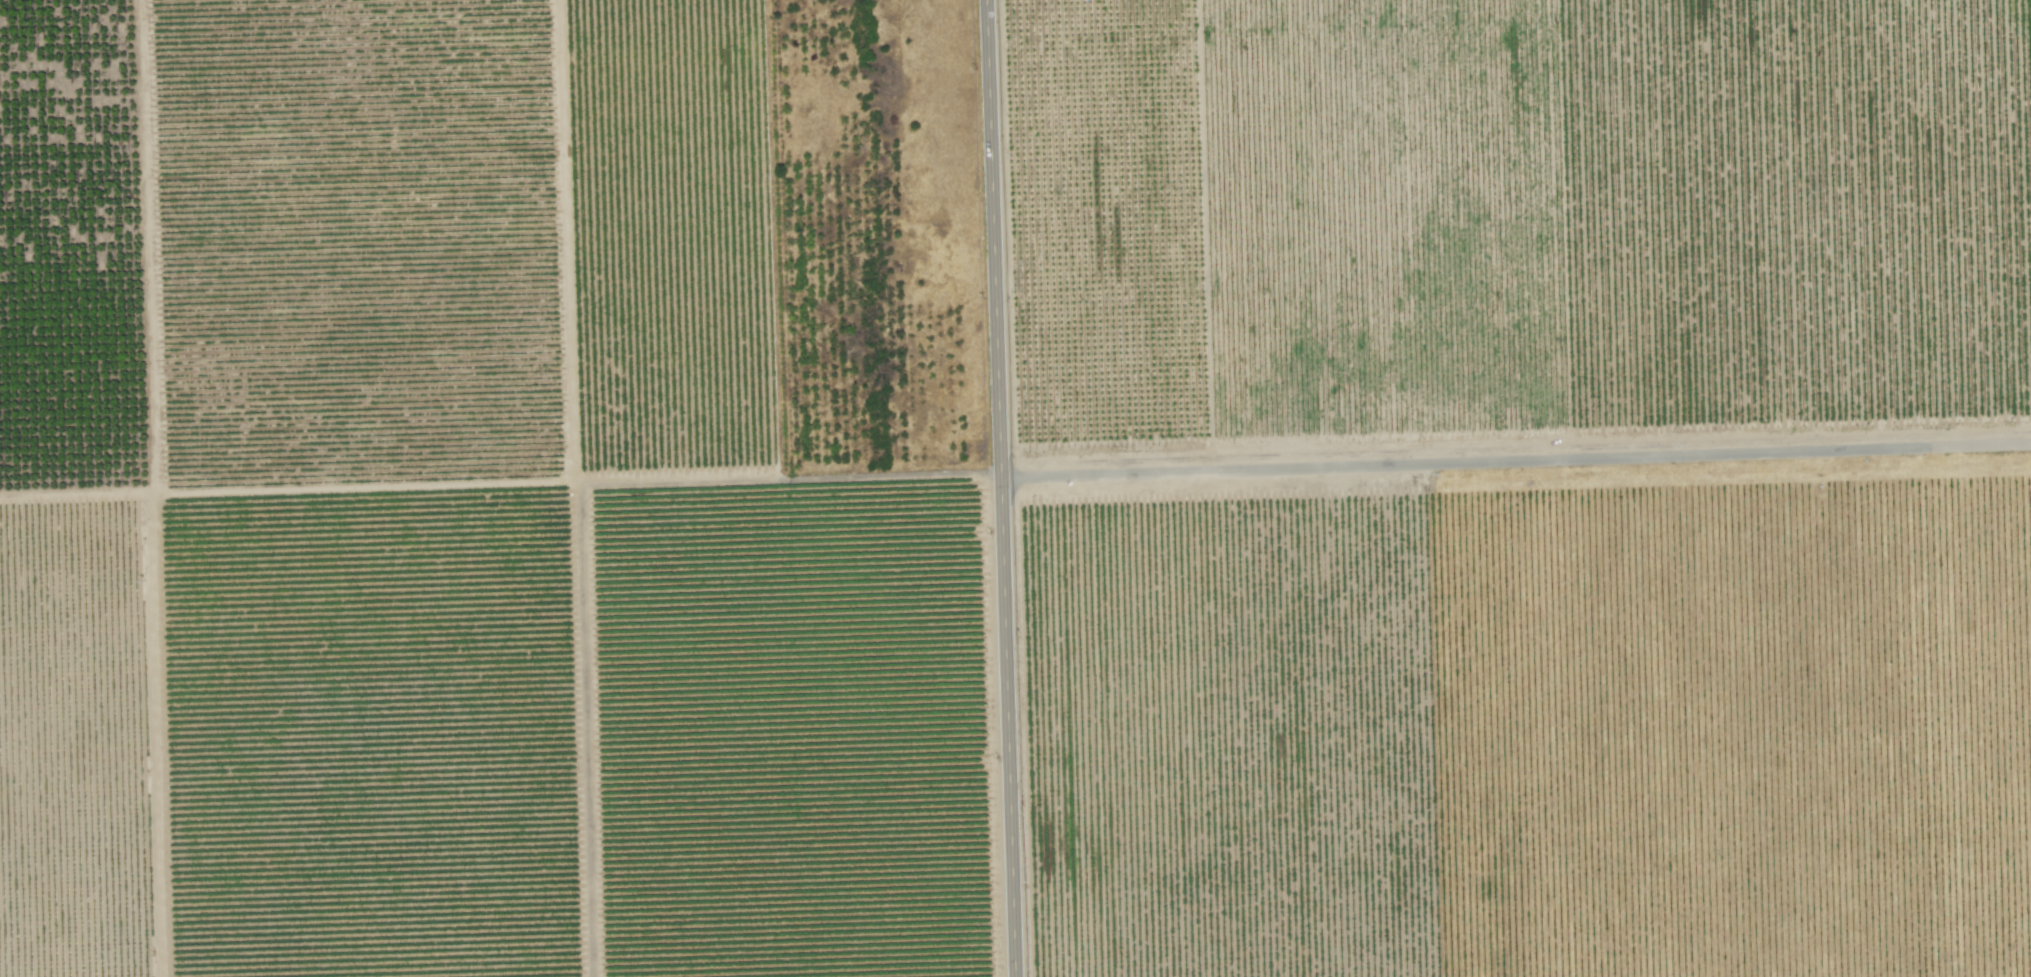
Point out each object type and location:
road: (999, 488)

